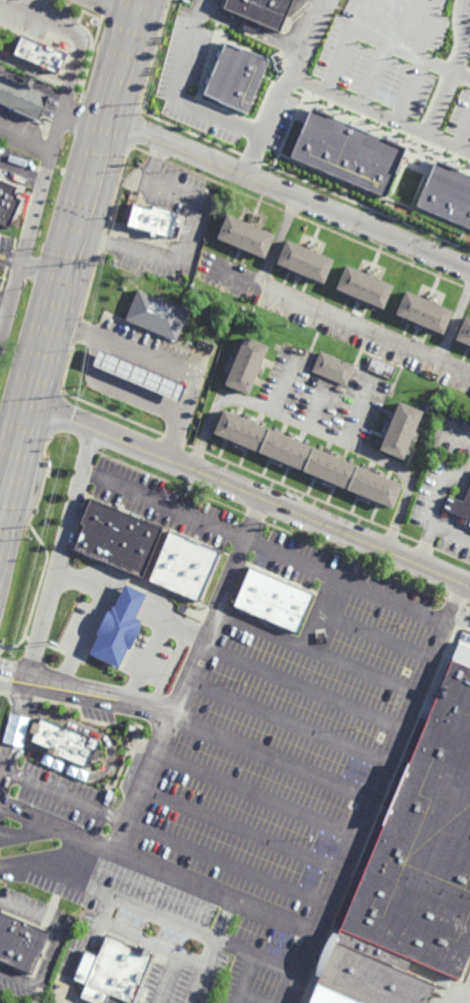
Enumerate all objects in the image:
road: (116, 9)
building: (262, 10)
building: (250, 25)
road: (243, 29)
road: (462, 34)
road: (71, 35)
road: (374, 37)
building: (40, 53)
building: (236, 77)
road: (285, 88)
building: (22, 95)
road: (181, 98)
power tower: (142, 100)
road: (357, 105)
road: (87, 115)
road: (430, 123)
road: (26, 138)
building: (386, 169)
road: (22, 175)
road: (290, 194)
building: (8, 202)
building: (152, 219)
road: (32, 226)
road: (190, 233)
building: (246, 235)
road: (279, 241)
power tower: (99, 259)
road: (11, 260)
building: (305, 260)
road: (70, 261)
road: (44, 270)
building: (365, 286)
road: (5, 303)
building: (425, 311)
building: (155, 314)
road: (337, 316)
road: (455, 324)
building: (465, 331)
road: (94, 353)
road: (167, 362)
building: (247, 366)
building: (333, 367)
building: (382, 367)
building: (139, 374)
gas station: (139, 374)
road: (281, 384)
road: (135, 389)
power tower: (76, 390)
road: (318, 407)
road: (357, 413)
building: (401, 430)
road: (206, 432)
road: (453, 433)
road: (350, 449)
road: (8, 456)
building: (308, 459)
road: (441, 486)
road: (4, 490)
road: (251, 493)
road: (458, 500)
building: (461, 504)
power tower: (43, 522)
road: (434, 526)
building: (469, 526)
building: (118, 534)
road: (264, 546)
road: (62, 548)
building: (184, 564)
road: (110, 591)
road: (130, 599)
building: (273, 599)
road: (152, 610)
road: (92, 611)
road: (319, 611)
road: (459, 622)
building: (119, 627)
road: (156, 632)
road: (375, 636)
road: (316, 651)
power tower: (9, 657)
road: (186, 679)
road: (88, 683)
road: (303, 684)
road: (84, 702)
road: (287, 721)
road: (11, 731)
building: (65, 742)
road: (272, 756)
road: (40, 758)
road: (375, 792)
road: (63, 793)
road: (256, 794)
road: (241, 827)
road: (50, 832)
building: (422, 840)
road: (49, 856)
road: (227, 861)
road: (215, 888)
road: (167, 916)
road: (120, 933)
road: (218, 933)
building: (20, 943)
road: (55, 943)
building: (370, 948)
road: (170, 964)
road: (75, 967)
building: (112, 972)
building: (368, 976)
road: (247, 978)
road: (197, 986)
building: (329, 996)
road: (463, 996)
road: (253, 997)
building: (3, 1002)

